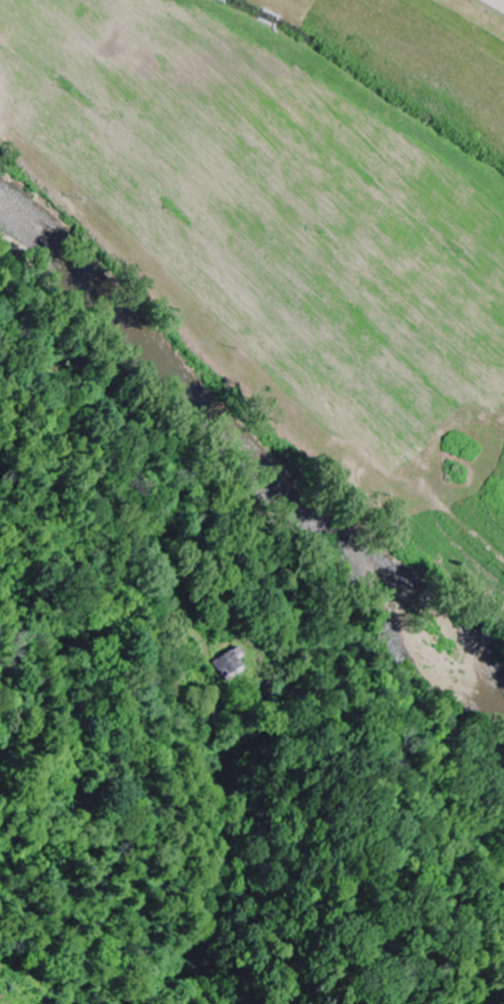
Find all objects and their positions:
road: (503, 0)
river: (239, 449)
road: (137, 520)
building: (229, 661)

